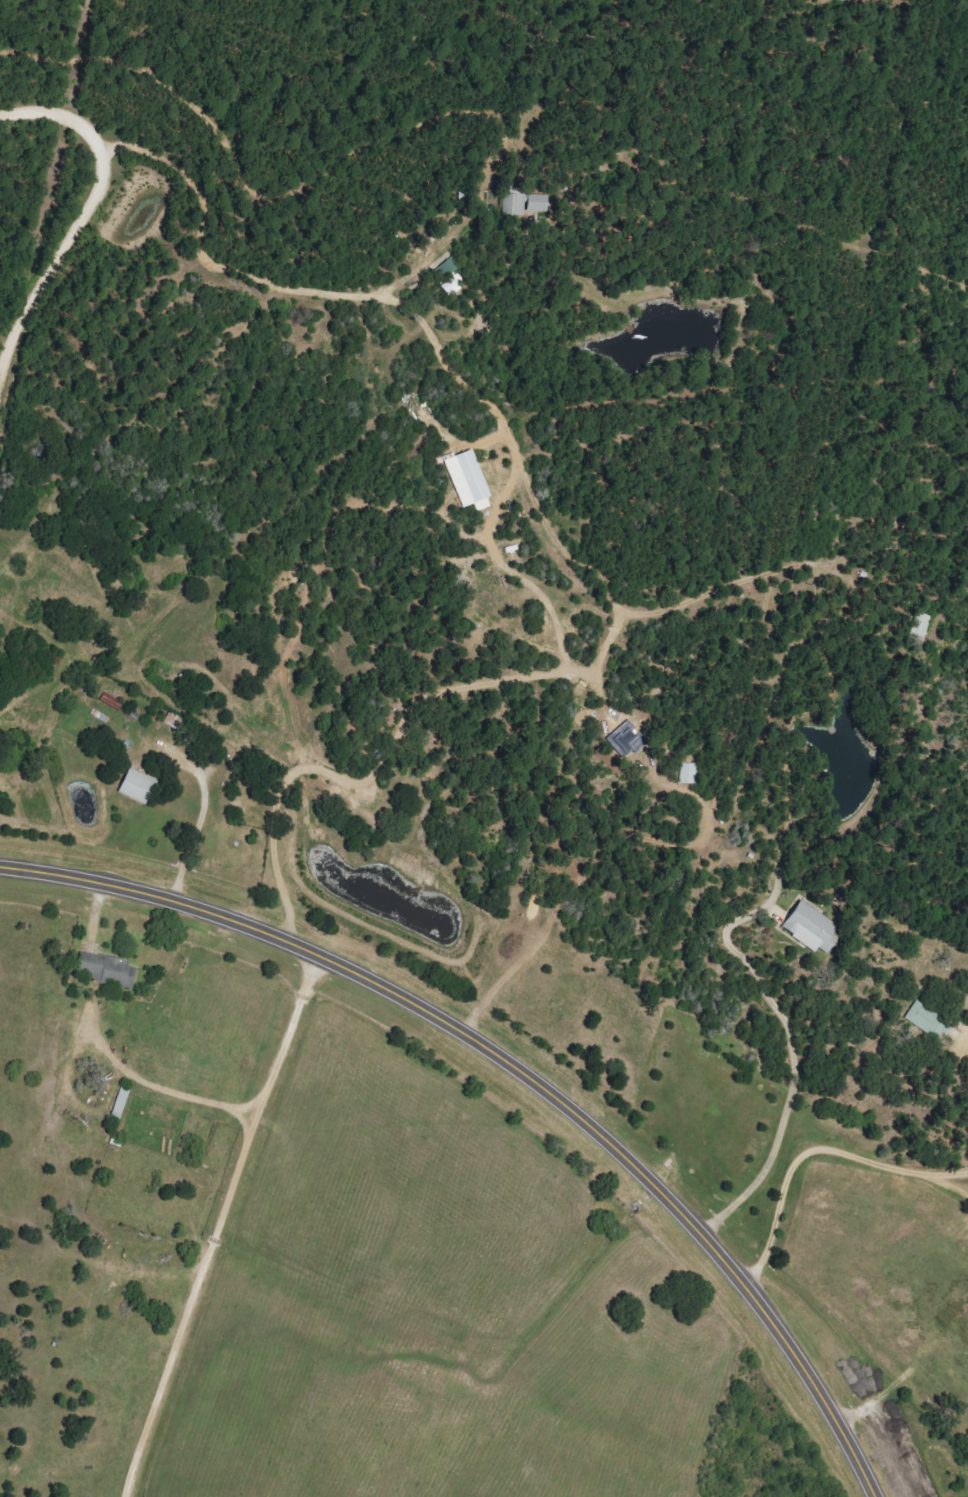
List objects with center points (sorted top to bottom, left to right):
road: (82, 212)
road: (8, 333)
building: (469, 477)
building: (484, 504)
road: (495, 548)
building: (180, 723)
building: (143, 786)
road: (245, 804)
building: (814, 927)
building: (105, 970)
building: (928, 1021)
road: (520, 1066)
road: (813, 1146)
road: (216, 1220)

